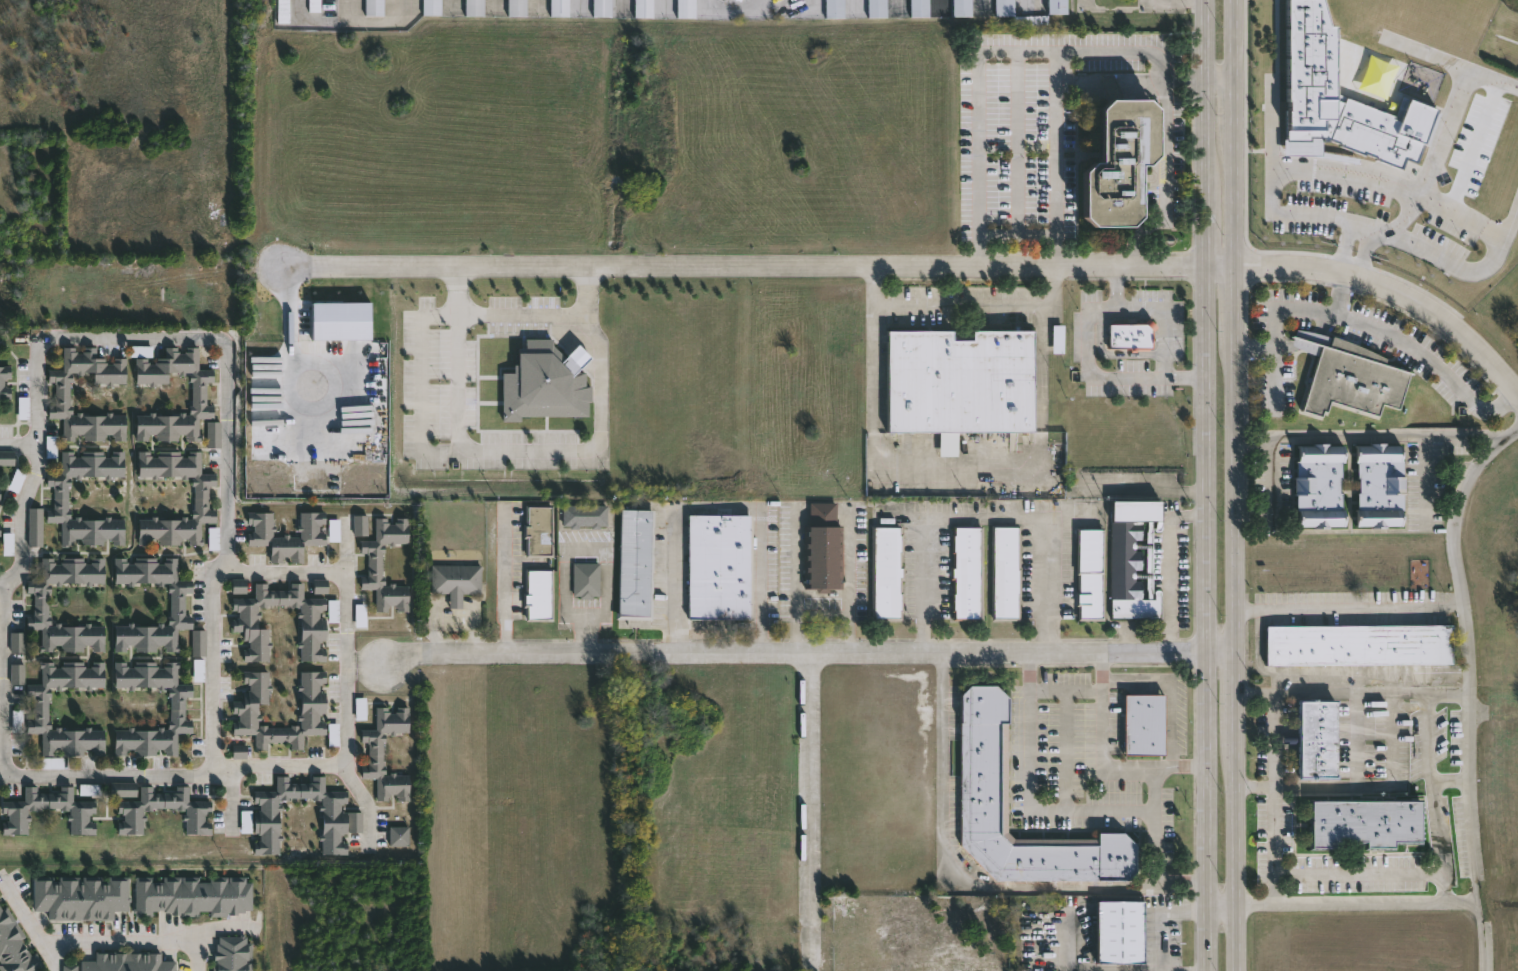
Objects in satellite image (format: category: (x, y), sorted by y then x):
road: (1184, 0)
building: (314, 5)
building: (1055, 6)
building: (373, 7)
building: (430, 7)
building: (473, 7)
building: (516, 7)
building: (558, 7)
building: (960, 7)
building: (1002, 7)
building: (601, 8)
building: (642, 8)
building: (685, 8)
building: (832, 8)
building: (875, 8)
building: (917, 8)
building: (282, 10)
road: (993, 52)
building: (1309, 62)
road: (1483, 75)
road: (1220, 80)
road: (1459, 92)
road: (1475, 136)
road: (1019, 142)
road: (1058, 158)
building: (1121, 162)
road: (1169, 181)
road: (1412, 200)
road: (1511, 221)
road: (1369, 230)
road: (1018, 232)
road: (1345, 252)
road: (1363, 256)
road: (757, 269)
road: (1393, 292)
road: (981, 306)
road: (1282, 308)
road: (526, 317)
road: (1159, 319)
building: (340, 321)
road: (1321, 322)
building: (1129, 335)
road: (1306, 338)
road: (118, 339)
road: (1284, 346)
road: (1089, 362)
road: (1431, 362)
building: (1348, 376)
building: (5, 379)
road: (1272, 381)
building: (545, 383)
building: (959, 383)
building: (62, 391)
building: (198, 394)
road: (1373, 436)
road: (20, 443)
road: (527, 452)
building: (6, 456)
road: (871, 465)
road: (1208, 485)
road: (1234, 485)
building: (1319, 486)
building: (1379, 486)
road: (1139, 490)
road: (1271, 492)
building: (60, 495)
building: (200, 495)
road: (715, 506)
building: (584, 515)
road: (985, 518)
building: (360, 523)
building: (35, 524)
building: (332, 530)
building: (538, 530)
building: (285, 533)
building: (822, 547)
road: (601, 553)
road: (793, 559)
building: (1132, 559)
building: (375, 561)
building: (635, 561)
building: (719, 566)
road: (1173, 566)
road: (847, 567)
road: (287, 569)
building: (886, 572)
building: (966, 572)
building: (1005, 573)
building: (1090, 573)
building: (585, 579)
building: (455, 580)
building: (319, 586)
road: (504, 587)
building: (538, 594)
building: (176, 601)
building: (41, 602)
road: (1351, 604)
road: (820, 613)
building: (245, 614)
road: (1258, 638)
building: (16, 640)
building: (198, 640)
building: (1358, 643)
road: (810, 653)
road: (1317, 668)
road: (1420, 668)
building: (197, 670)
building: (17, 671)
road: (346, 680)
road: (1134, 682)
road: (1353, 690)
road: (1473, 693)
building: (177, 705)
building: (41, 706)
building: (359, 706)
building: (245, 712)
building: (1142, 723)
road: (1170, 726)
building: (1316, 736)
road: (1356, 738)
building: (238, 751)
building: (374, 751)
building: (983, 756)
road: (1272, 756)
road: (279, 761)
building: (51, 762)
road: (1100, 763)
road: (118, 772)
road: (1455, 779)
road: (1379, 785)
building: (89, 789)
building: (122, 789)
road: (1152, 792)
road: (1434, 796)
road: (1074, 808)
road: (808, 811)
building: (197, 819)
building: (341, 819)
building: (14, 820)
building: (1363, 820)
building: (398, 834)
road: (1273, 844)
road: (948, 866)
road: (1356, 872)
building: (193, 893)
building: (80, 895)
road: (1345, 903)
road: (1163, 920)
road: (30, 922)
building: (1119, 929)
road: (152, 942)
building: (13, 944)
road: (200, 952)
building: (231, 952)
building: (127, 961)
building: (69, 967)

